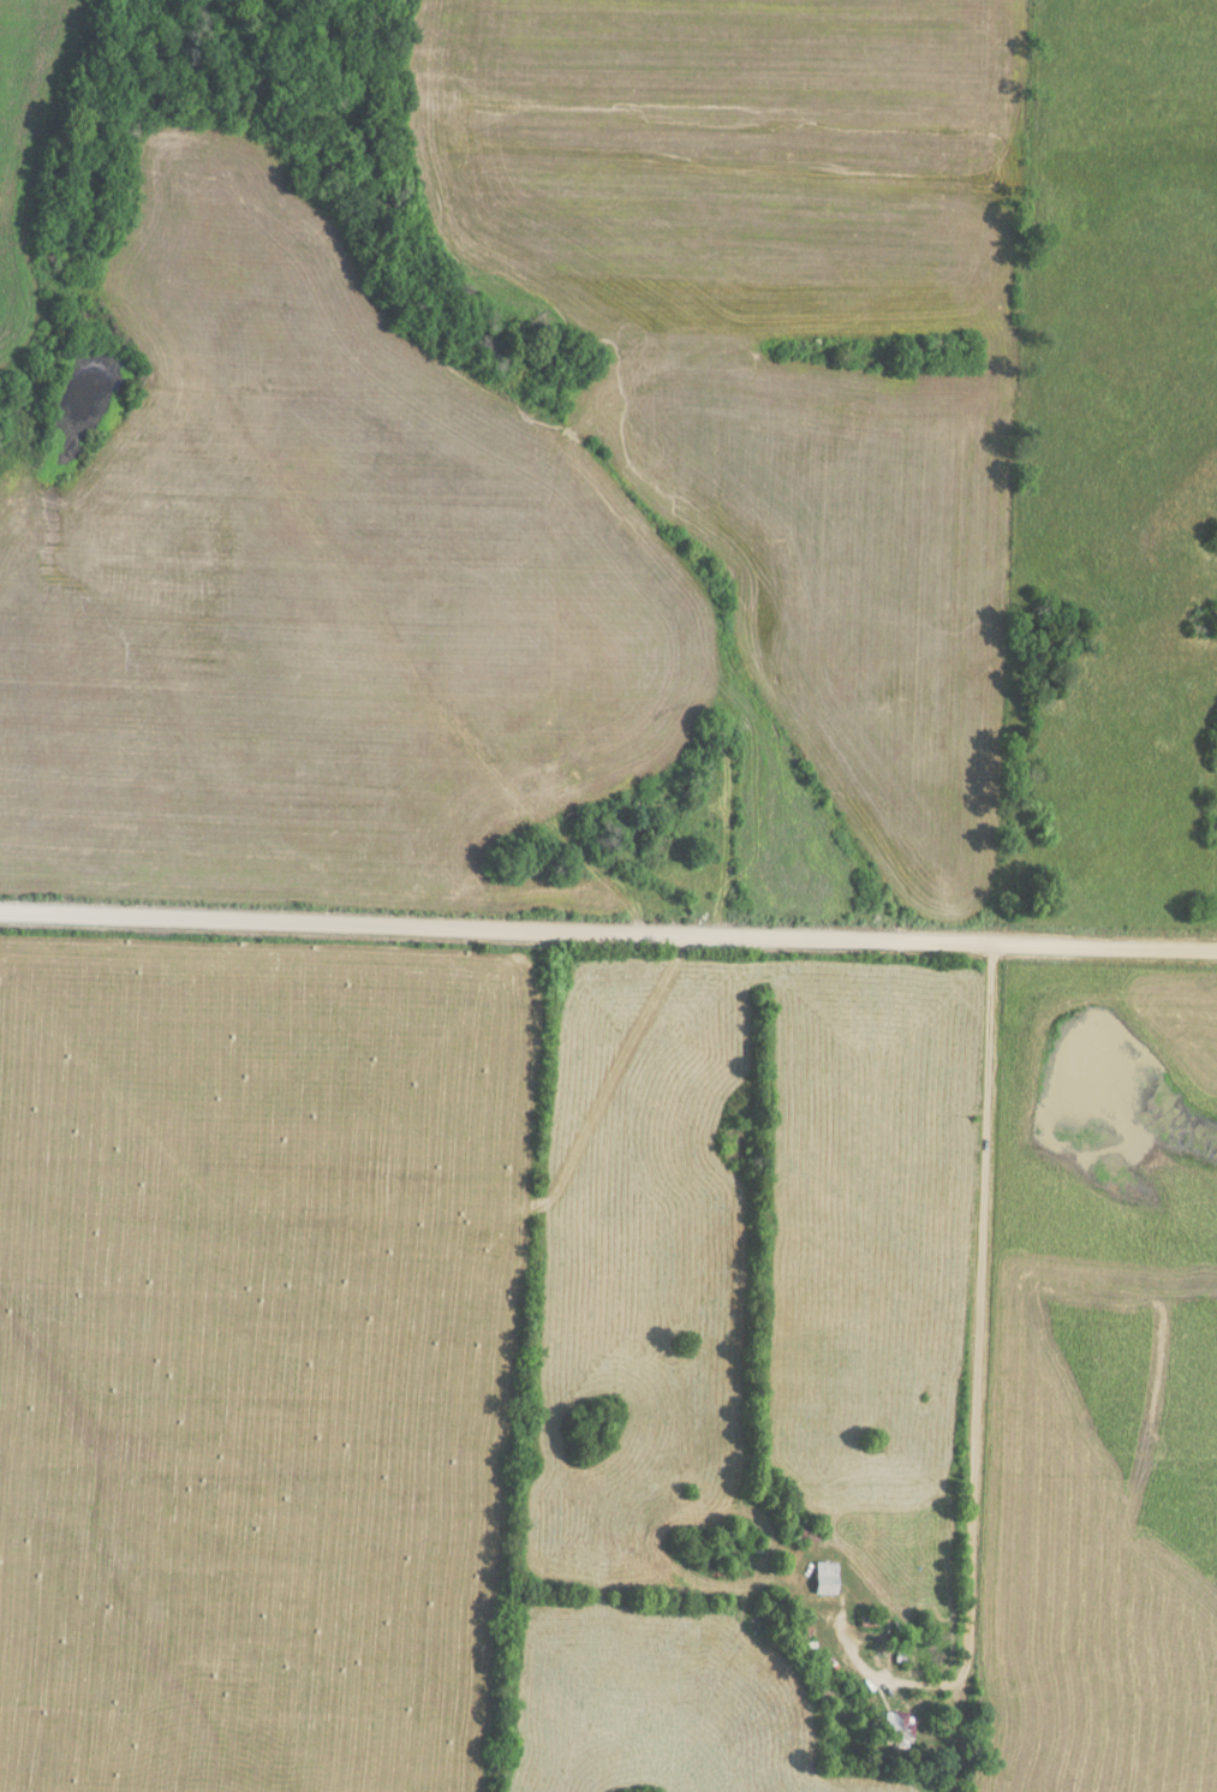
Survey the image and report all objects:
road: (608, 934)
road: (979, 1300)
building: (804, 1531)
building: (821, 1584)
building: (822, 1685)
building: (894, 1730)

